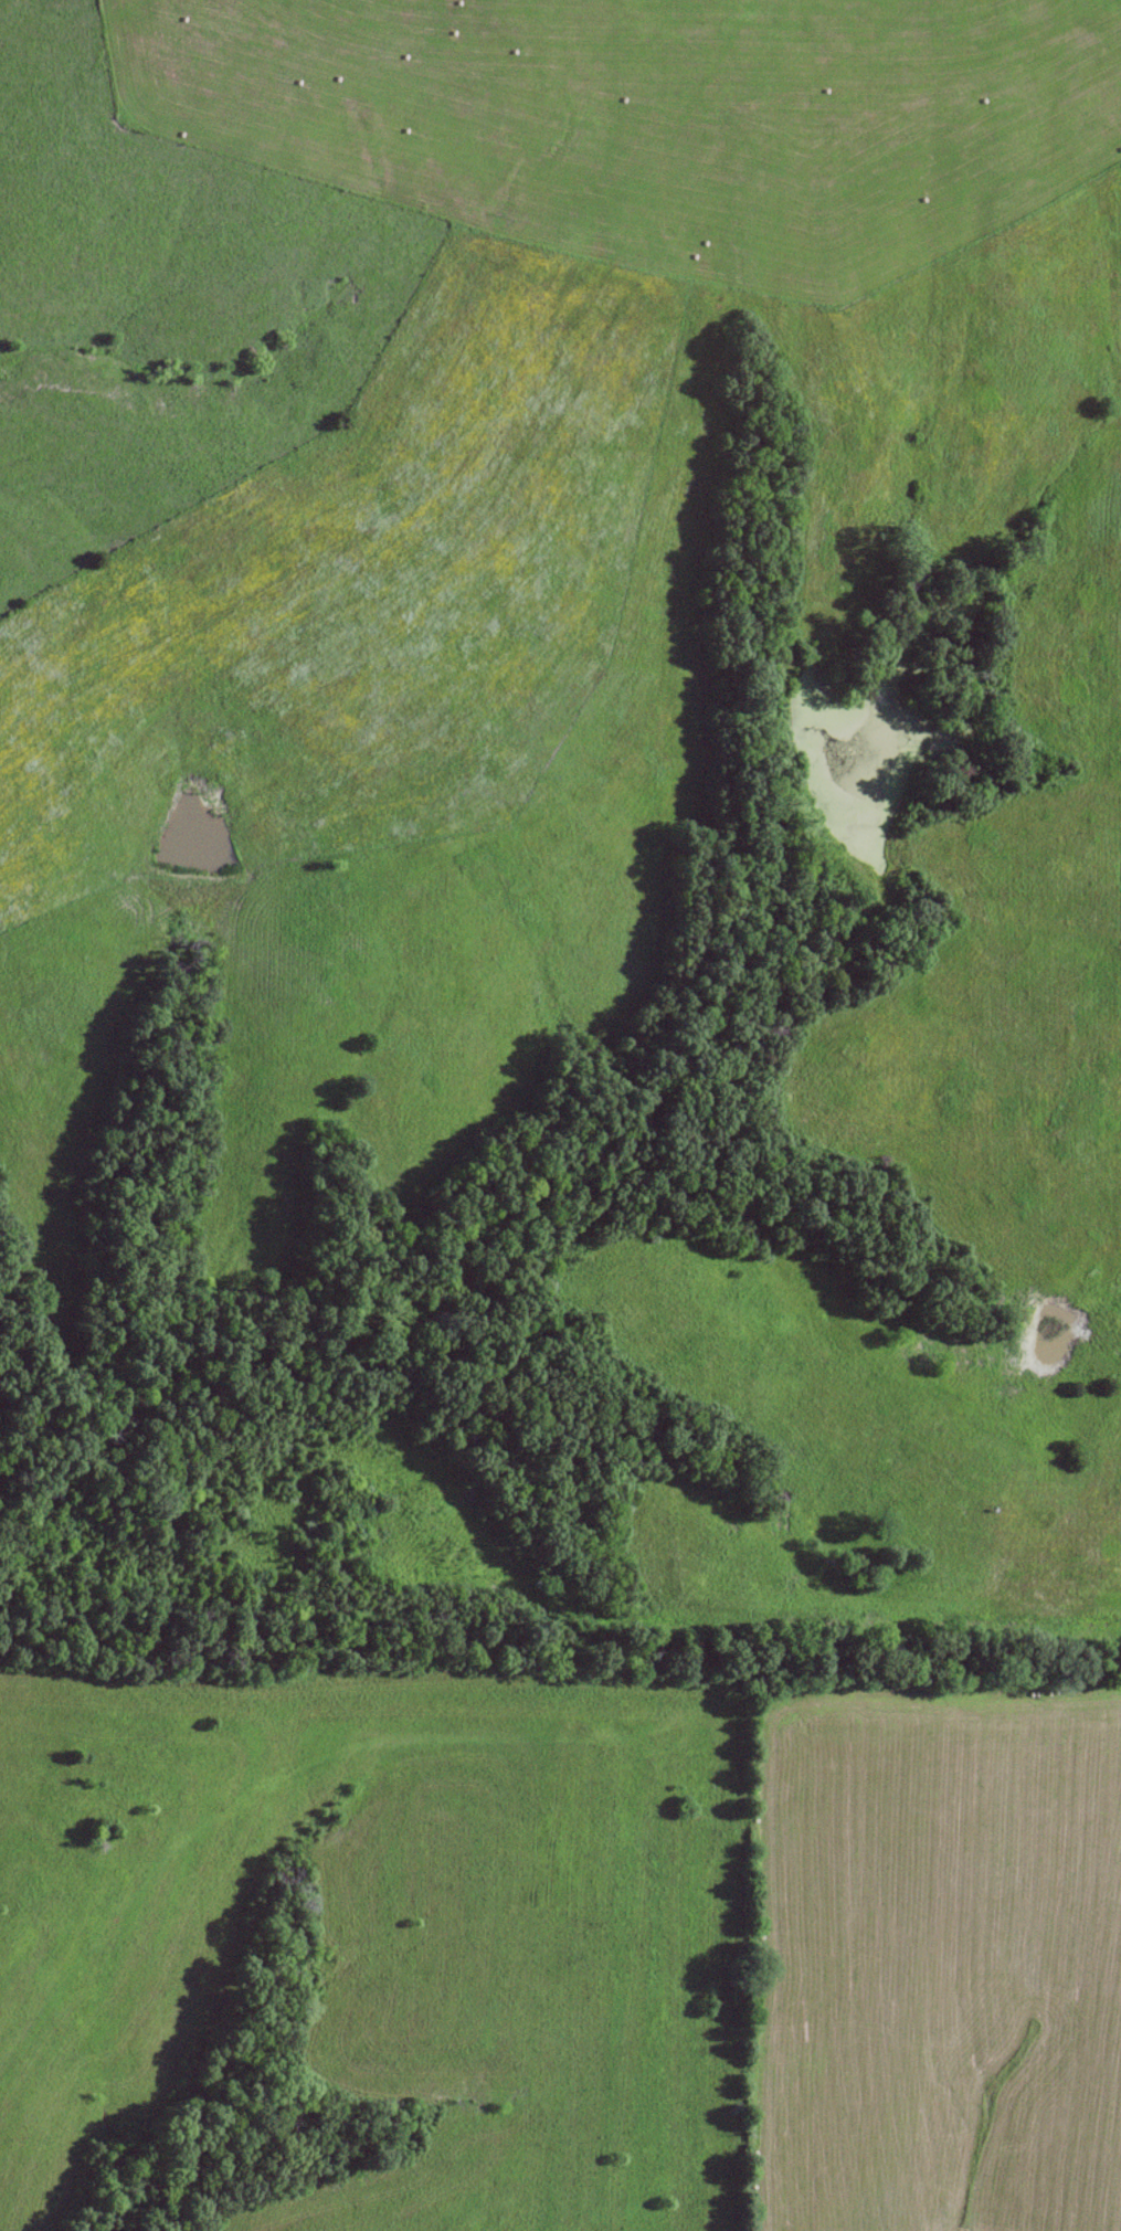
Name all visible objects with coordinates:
road: (891, 1608)

